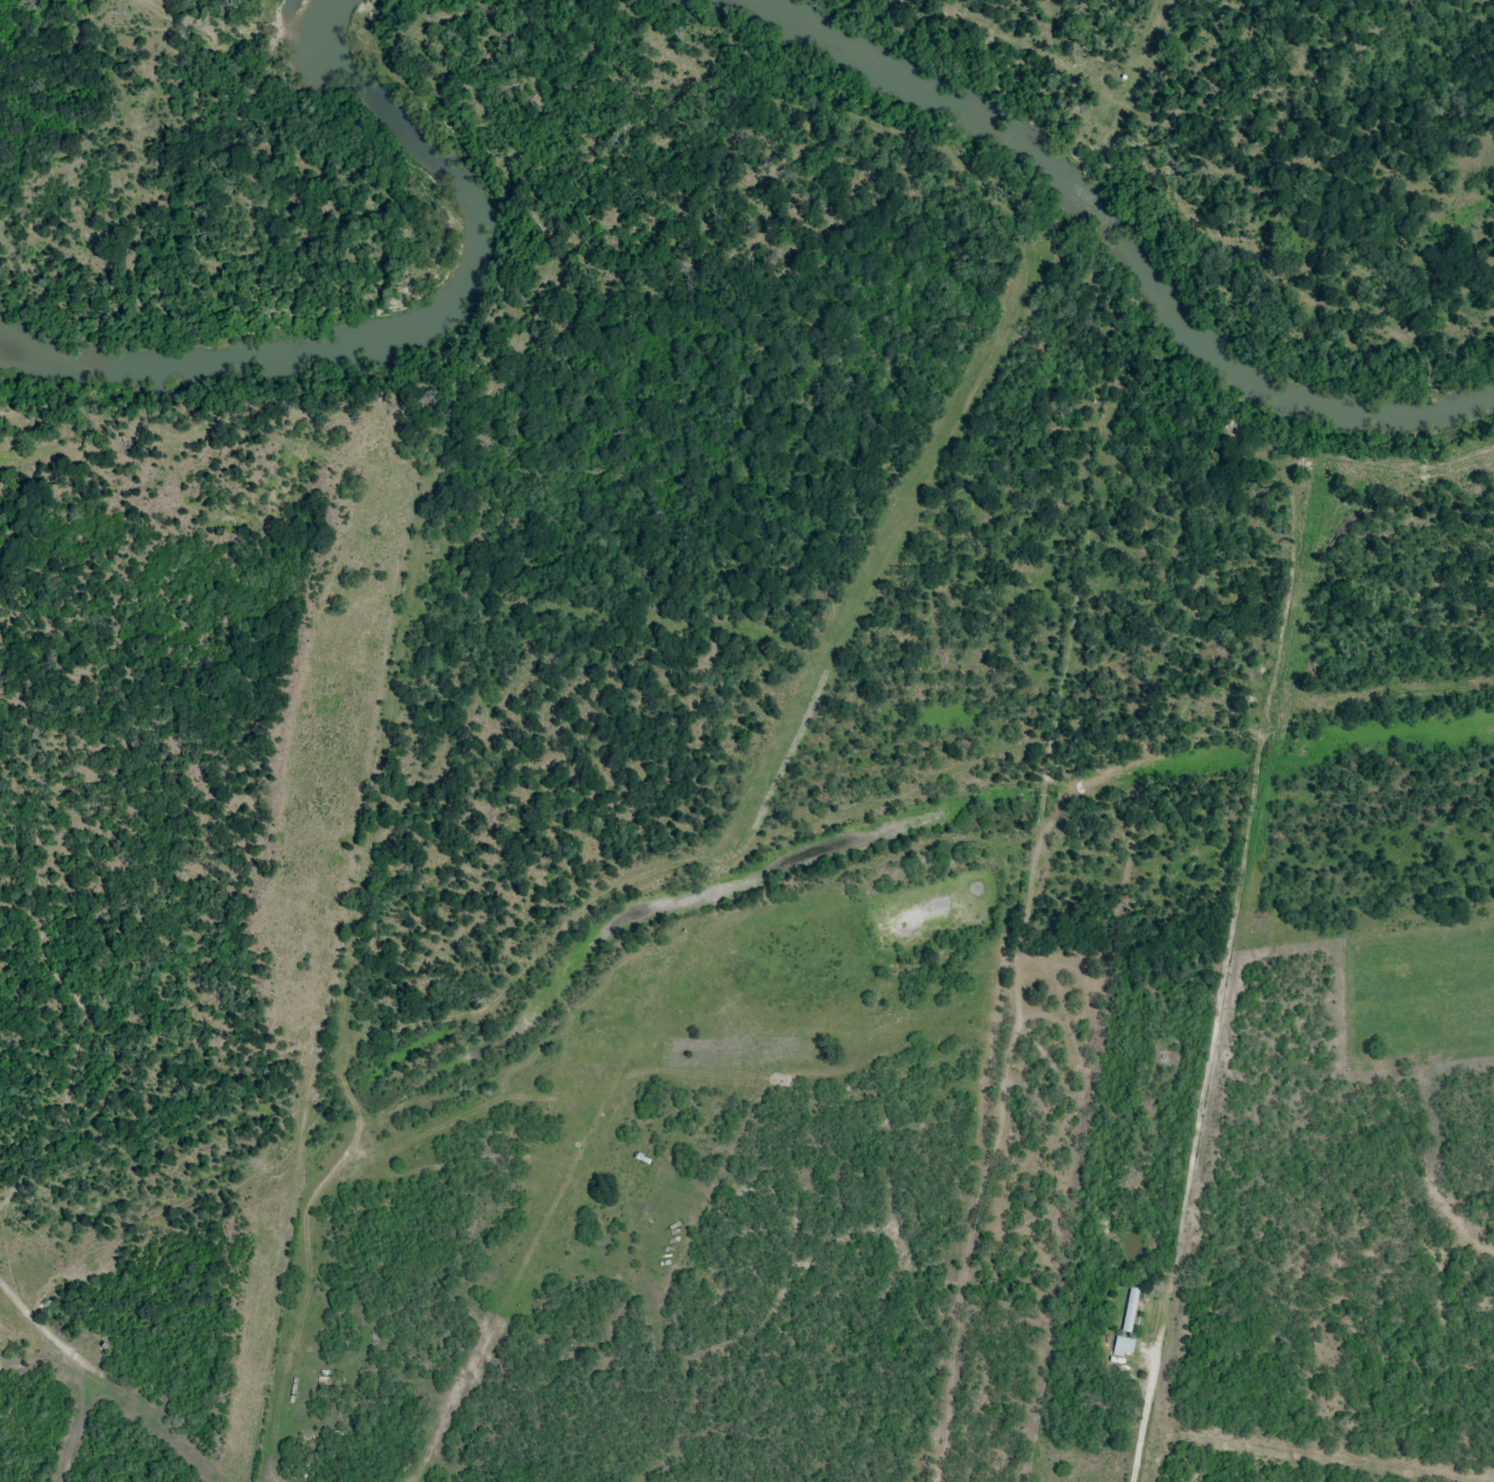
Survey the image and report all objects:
river: (1121, 234)
river: (406, 328)
road: (1180, 1193)
building: (1127, 1309)
building: (1120, 1346)

